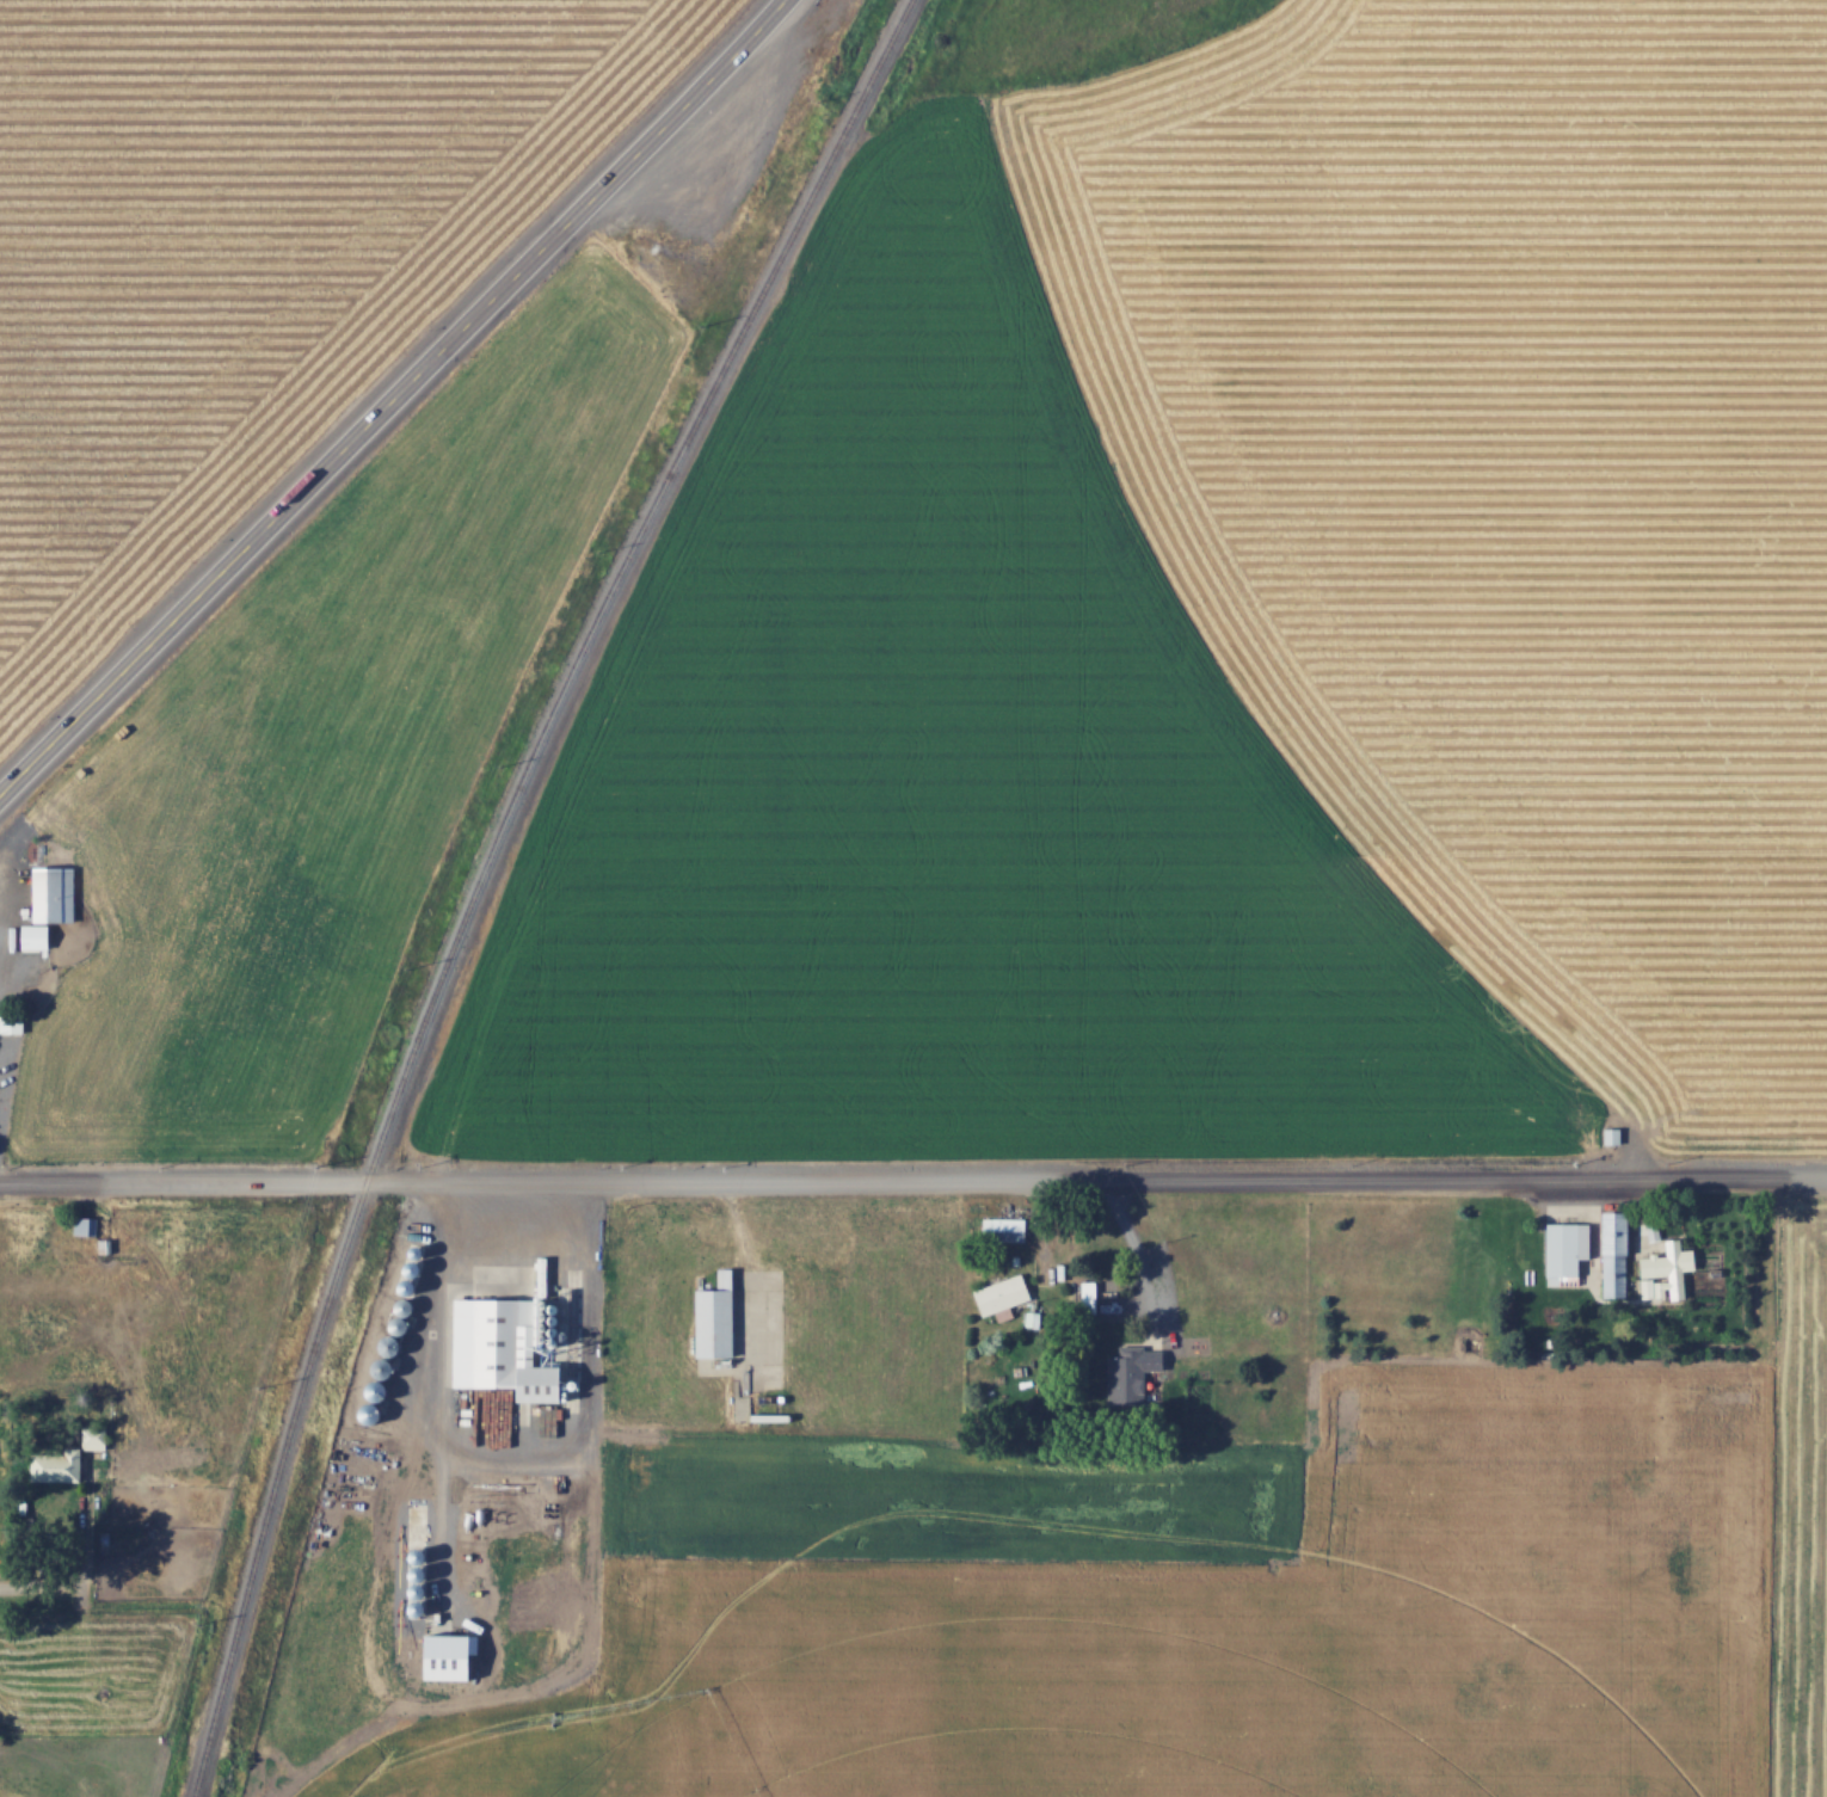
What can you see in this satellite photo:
crop: (258, 253)
road: (388, 407)
crop: (1496, 490)
crop: (314, 762)
crop: (949, 795)
railway: (486, 873)
road: (4, 882)
building: (57, 896)
building: (38, 935)
building: (14, 1024)
building: (1610, 1136)
road: (913, 1181)
building: (91, 1224)
building: (1002, 1229)
building: (1558, 1249)
building: (1610, 1255)
building: (1660, 1270)
building: (998, 1294)
building: (1087, 1296)
building: (710, 1318)
crop: (156, 1342)
building: (491, 1350)
building: (1128, 1373)
road: (435, 1397)
building: (98, 1436)
building: (54, 1467)
crop: (1796, 1512)
road: (39, 1584)
crop: (1217, 1602)
building: (436, 1656)
crop: (492, 1759)

